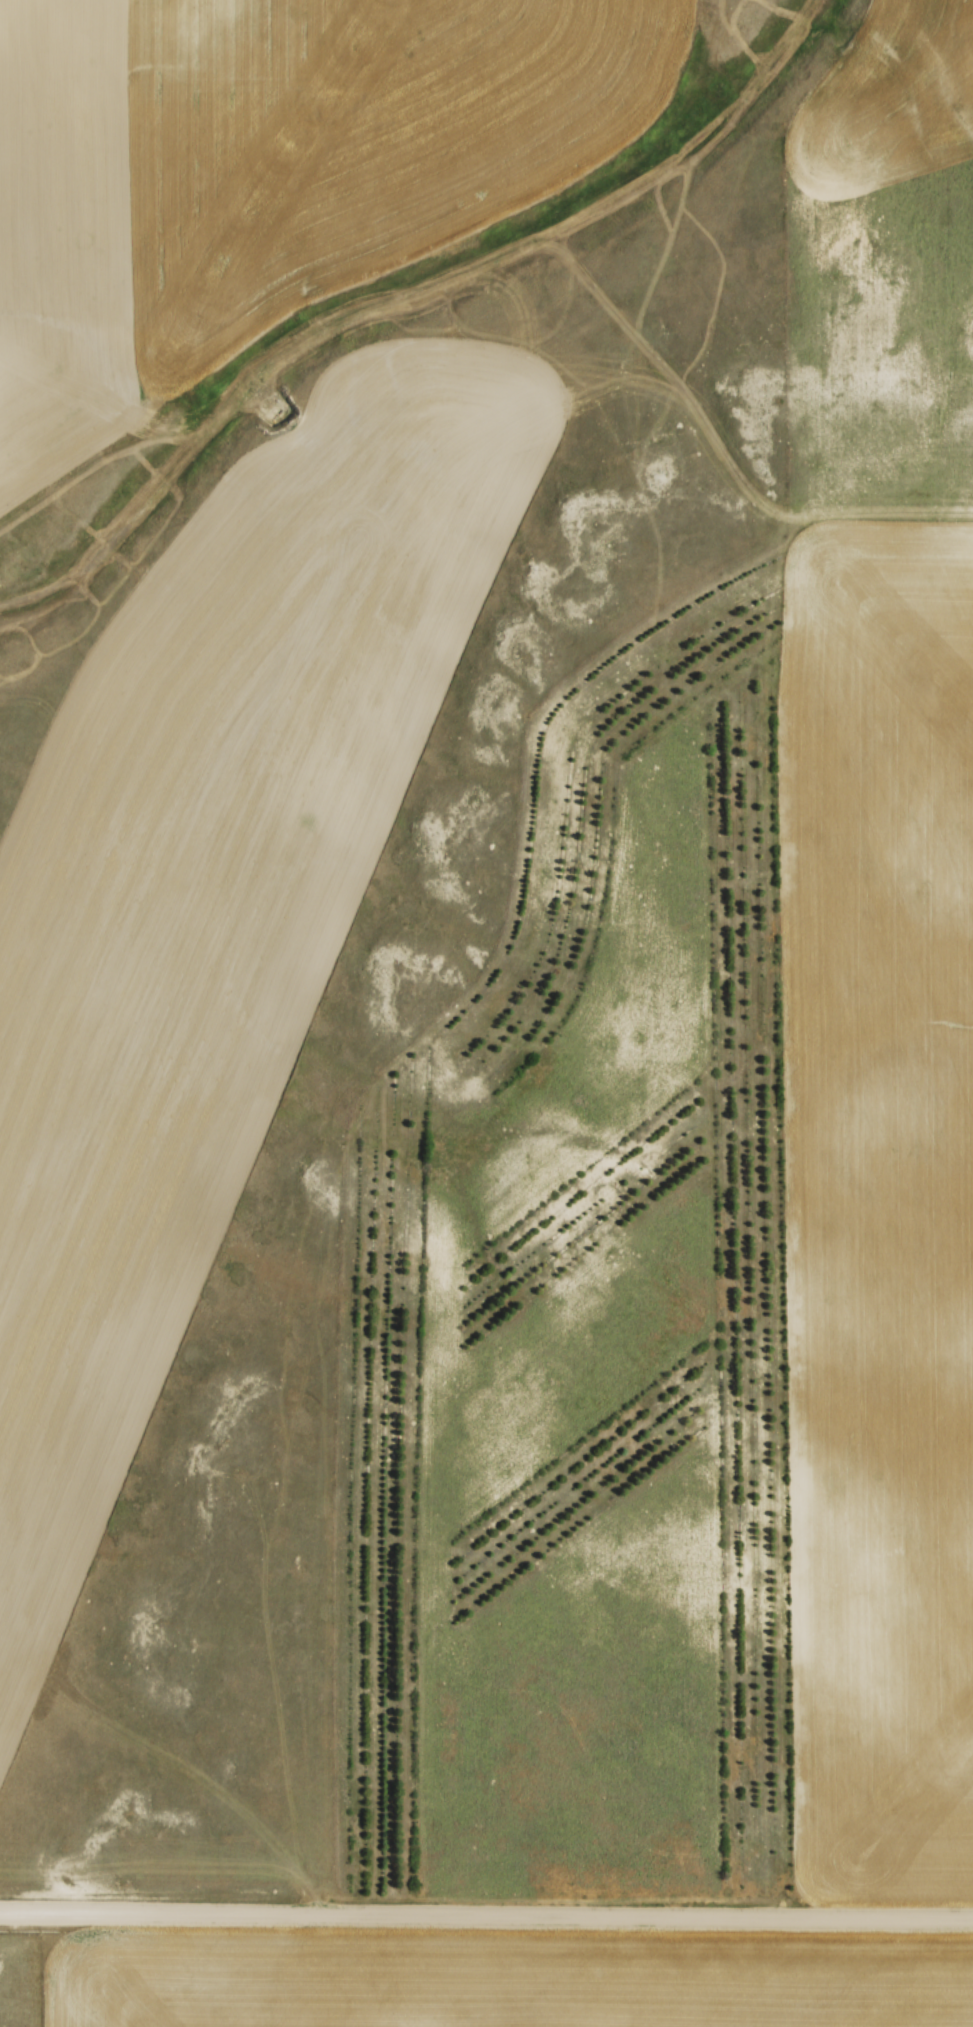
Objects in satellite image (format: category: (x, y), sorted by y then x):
road: (486, 1917)

